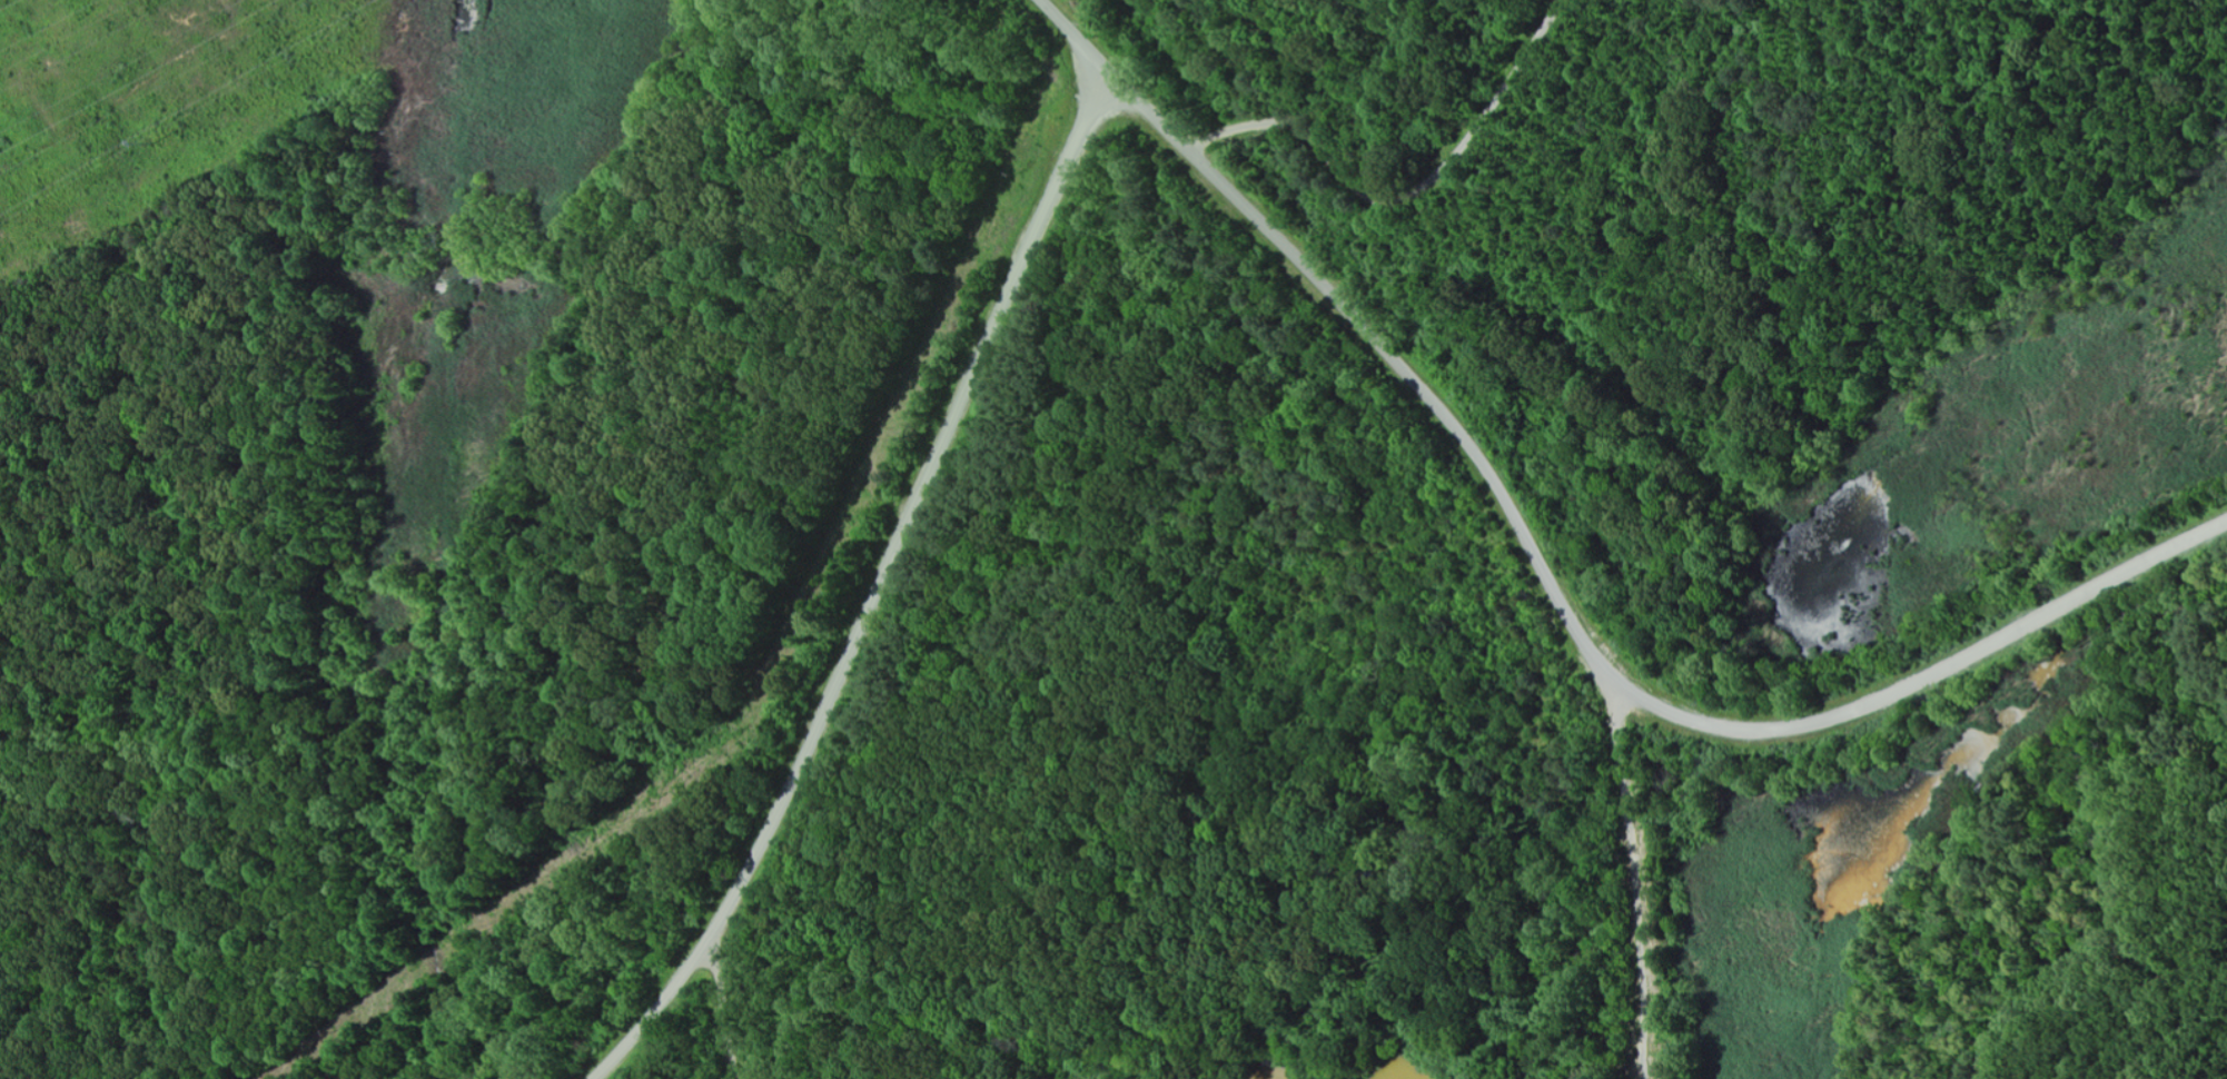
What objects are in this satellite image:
road: (1458, 167)
road: (1553, 585)
road: (877, 590)

